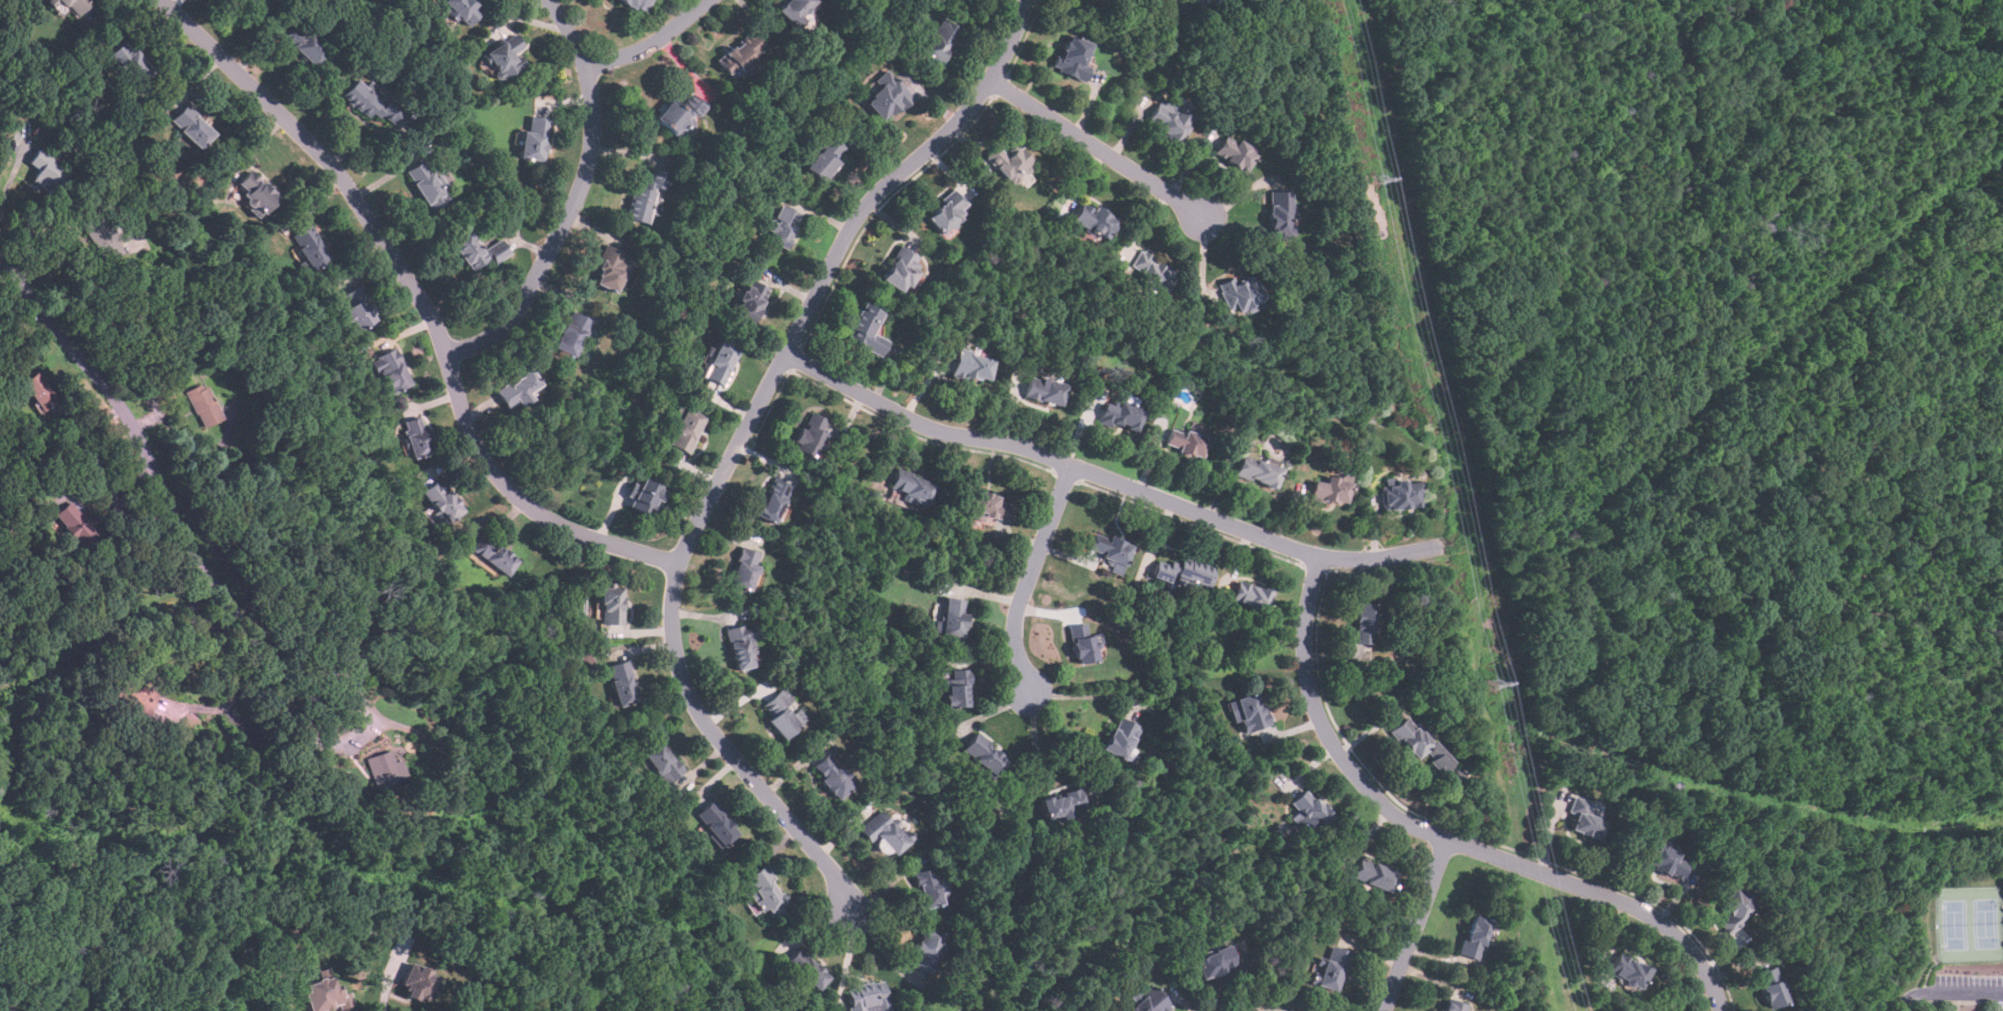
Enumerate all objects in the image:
building: (1101, 0)
building: (246, 1)
building: (1202, 3)
building: (636, 4)
building: (75, 5)
building: (793, 8)
building: (461, 9)
building: (939, 40)
building: (303, 42)
road: (653, 43)
building: (739, 53)
building: (504, 56)
building: (1073, 56)
building: (129, 62)
building: (885, 94)
building: (370, 101)
building: (679, 111)
building: (1169, 120)
building: (189, 125)
building: (534, 137)
road: (1098, 147)
building: (1234, 151)
building: (824, 157)
building: (1011, 161)
building: (48, 172)
road: (10, 179)
power tower: (1379, 179)
building: (427, 184)
building: (253, 192)
building: (645, 195)
road: (576, 197)
building: (947, 210)
building: (1279, 214)
building: (1092, 219)
building: (781, 224)
building: (309, 247)
building: (477, 250)
building: (901, 268)
building: (609, 269)
building: (1151, 273)
building: (1239, 292)
road: (423, 299)
building: (750, 300)
building: (355, 308)
building: (866, 329)
building: (570, 333)
building: (720, 361)
building: (971, 366)
building: (391, 370)
building: (516, 389)
building: (1043, 389)
building: (39, 390)
road: (120, 402)
building: (203, 404)
building: (1120, 415)
building: (685, 430)
building: (809, 435)
building: (416, 437)
building: (1186, 442)
road: (737, 445)
building: (1257, 471)
road: (1110, 478)
building: (633, 487)
building: (912, 488)
building: (1330, 490)
building: (1401, 492)
building: (645, 496)
building: (772, 499)
building: (442, 501)
building: (990, 508)
road: (121, 511)
building: (76, 525)
building: (1109, 549)
building: (494, 555)
building: (744, 568)
building: (1183, 571)
road: (1030, 576)
building: (1249, 595)
building: (611, 604)
building: (953, 617)
building: (1364, 623)
building: (1082, 642)
building: (739, 647)
road: (231, 666)
building: (621, 682)
power tower: (1494, 683)
building: (956, 687)
road: (356, 692)
building: (1250, 711)
building: (783, 713)
building: (1121, 737)
building: (1418, 742)
building: (984, 754)
road: (1039, 758)
building: (662, 762)
building: (383, 768)
building: (832, 775)
building: (1456, 776)
building: (1063, 803)
building: (1308, 813)
building: (1586, 816)
building: (716, 823)
building: (881, 832)
road: (1445, 836)
building: (1667, 862)
building: (1373, 875)
building: (930, 887)
building: (767, 893)
building: (1734, 909)
park: (1968, 922)
road: (1416, 924)
building: (1475, 937)
road: (882, 947)
building: (926, 951)
road: (847, 960)
building: (1214, 962)
building: (1331, 968)
building: (1627, 971)
building: (804, 972)
building: (418, 983)
building: (1771, 988)
road: (384, 991)
road: (1947, 993)
building: (323, 995)
building: (867, 999)
building: (1147, 1000)
building: (1455, 1006)

